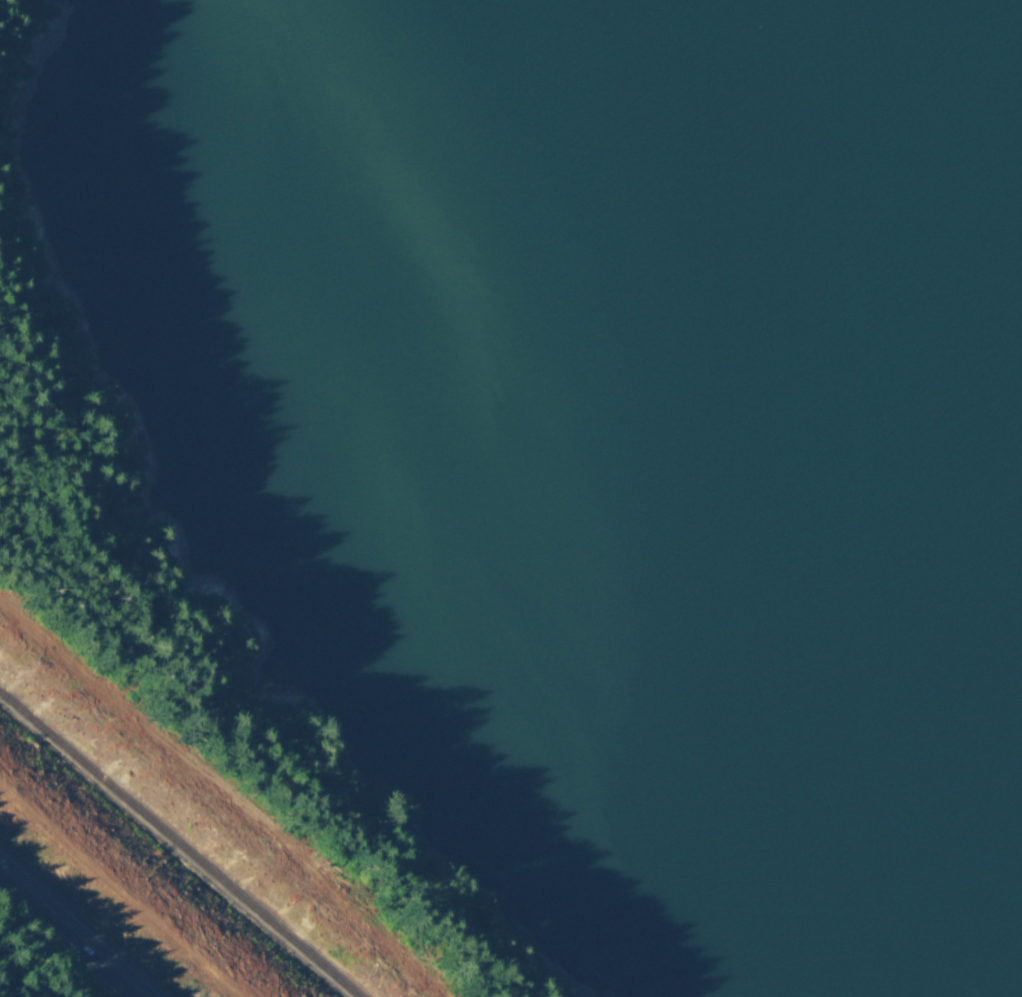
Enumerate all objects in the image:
river: (1013, 9)
railway: (180, 845)
road: (42, 904)
road: (114, 970)

